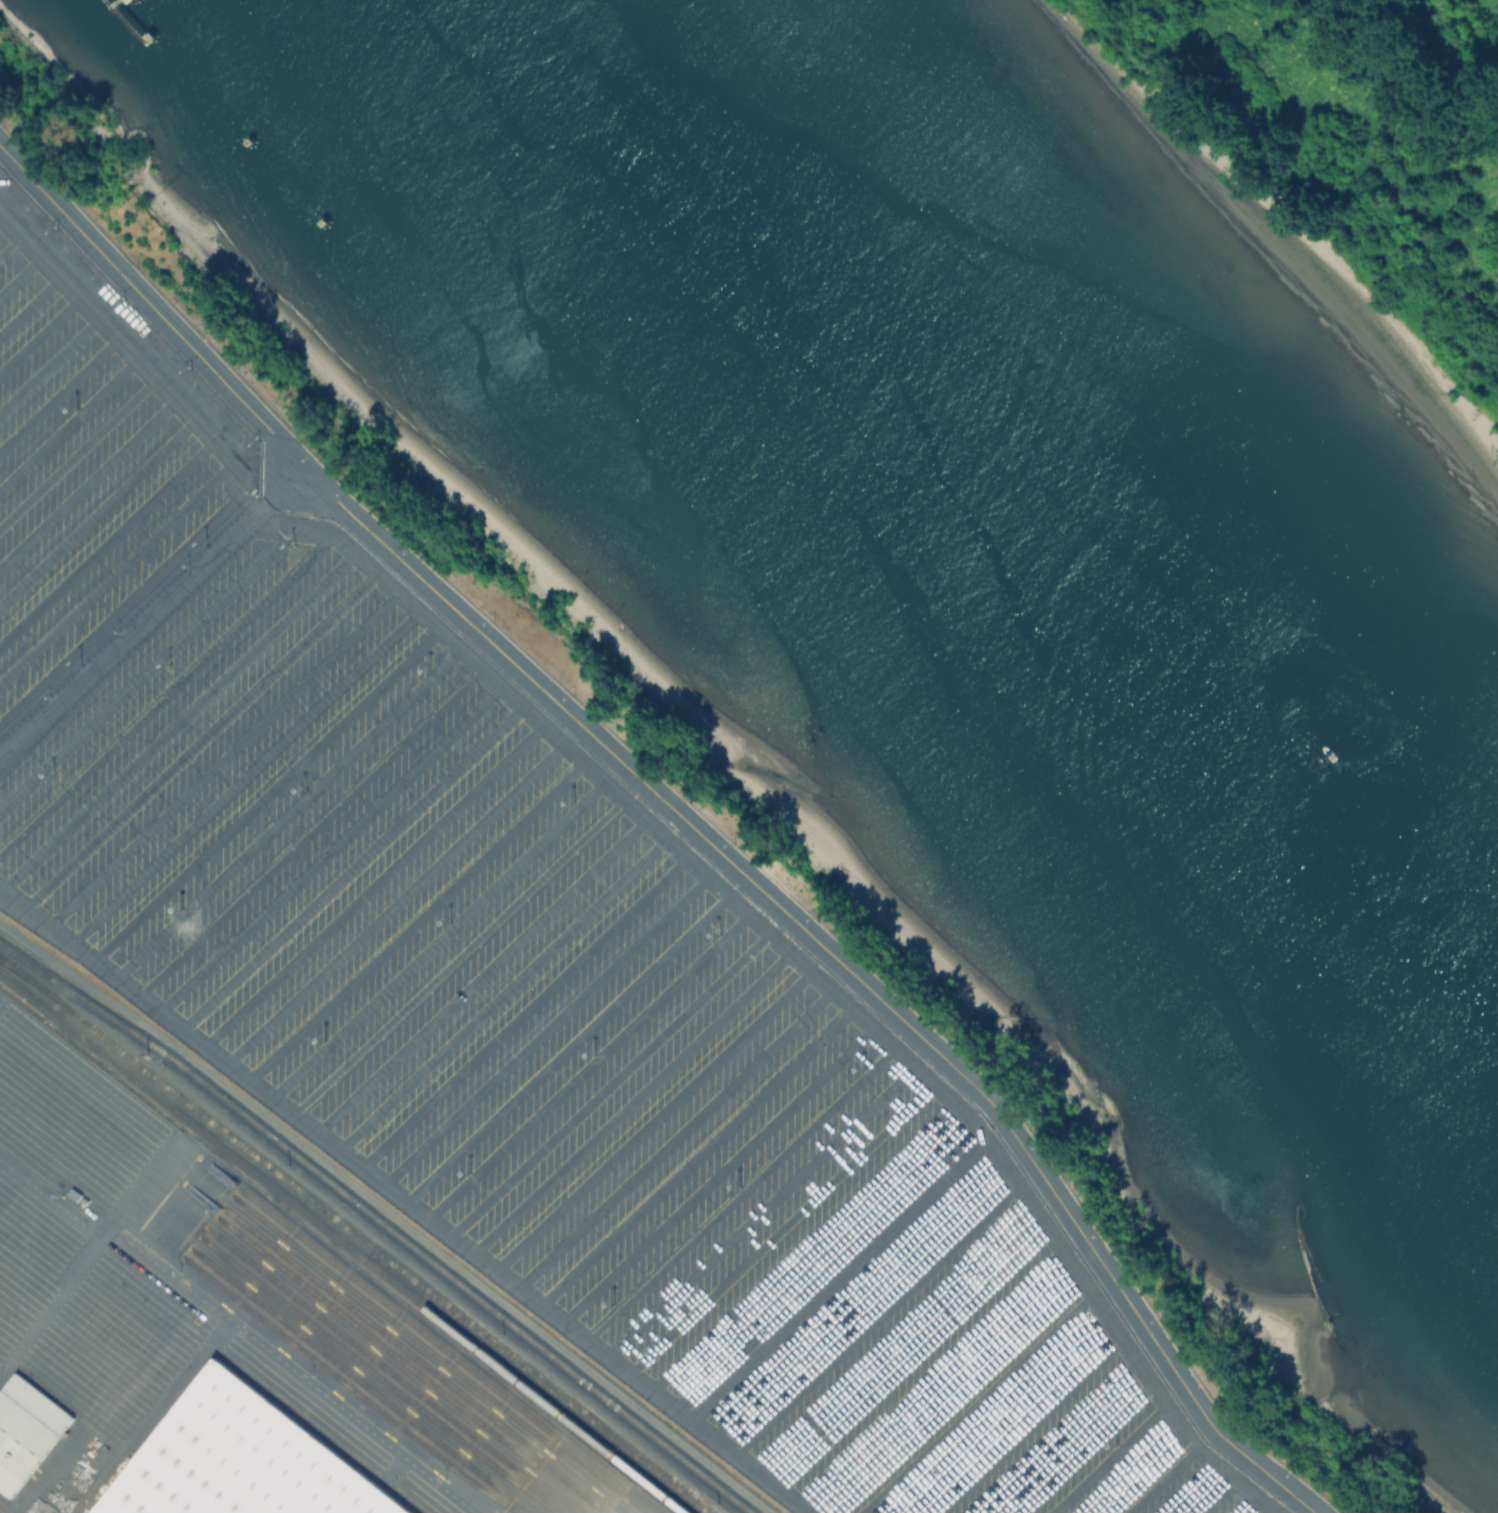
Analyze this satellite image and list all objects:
pier: (126, 20)
road: (2, 210)
road: (11, 239)
road: (21, 271)
road: (30, 298)
road: (41, 333)
road: (51, 364)
road: (59, 389)
road: (68, 417)
road: (79, 449)
road: (88, 479)
road: (98, 509)
river: (1017, 511)
road: (108, 539)
road: (150, 611)
road: (146, 666)
road: (168, 692)
road: (178, 720)
road: (199, 738)
road: (222, 756)
road: (243, 774)
road: (266, 793)
road: (288, 811)
road: (676, 811)
road: (656, 828)
road: (311, 830)
road: (331, 846)
road: (353, 865)
road: (373, 882)
road: (396, 902)
road: (417, 919)
road: (438, 937)
road: (459, 956)
road: (480, 973)
railway: (26, 981)
road: (500, 990)
road: (523, 1010)
road: (545, 1028)
road: (567, 1046)
road: (588, 1064)
road: (608, 1082)
road: (629, 1099)
road: (651, 1118)
road: (672, 1136)
road: (694, 1154)
road: (716, 1173)
road: (739, 1193)
road: (406, 1198)
road: (759, 1209)
road: (389, 1214)
railway: (379, 1223)
road: (779, 1227)
railway: (353, 1236)
railway: (345, 1243)
road: (803, 1247)
road: (90, 1256)
road: (835, 1276)
road: (857, 1300)
road: (876, 1320)
road: (893, 1338)
railway: (450, 1351)
railway: (439, 1355)
road: (910, 1355)
railway: (423, 1360)
railway: (411, 1364)
railway: (395, 1370)
railway: (381, 1375)
road: (930, 1376)
railway: (367, 1383)
railway: (356, 1390)
road: (949, 1391)
road: (976, 1402)
road: (1004, 1414)
road: (1031, 1425)
building: (26, 1430)
road: (1056, 1435)
road: (1083, 1446)
road: (1109, 1457)
building: (244, 1460)
road: (1137, 1468)
road: (1162, 1478)
road: (1190, 1487)
road: (1220, 1496)
road: (1250, 1505)

